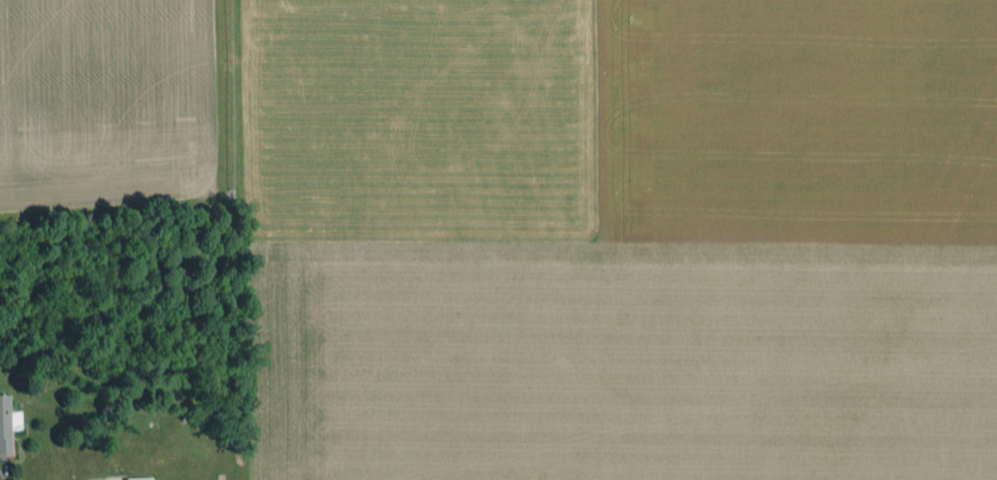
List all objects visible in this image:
building: (7, 425)
road: (3, 469)
building: (138, 479)

